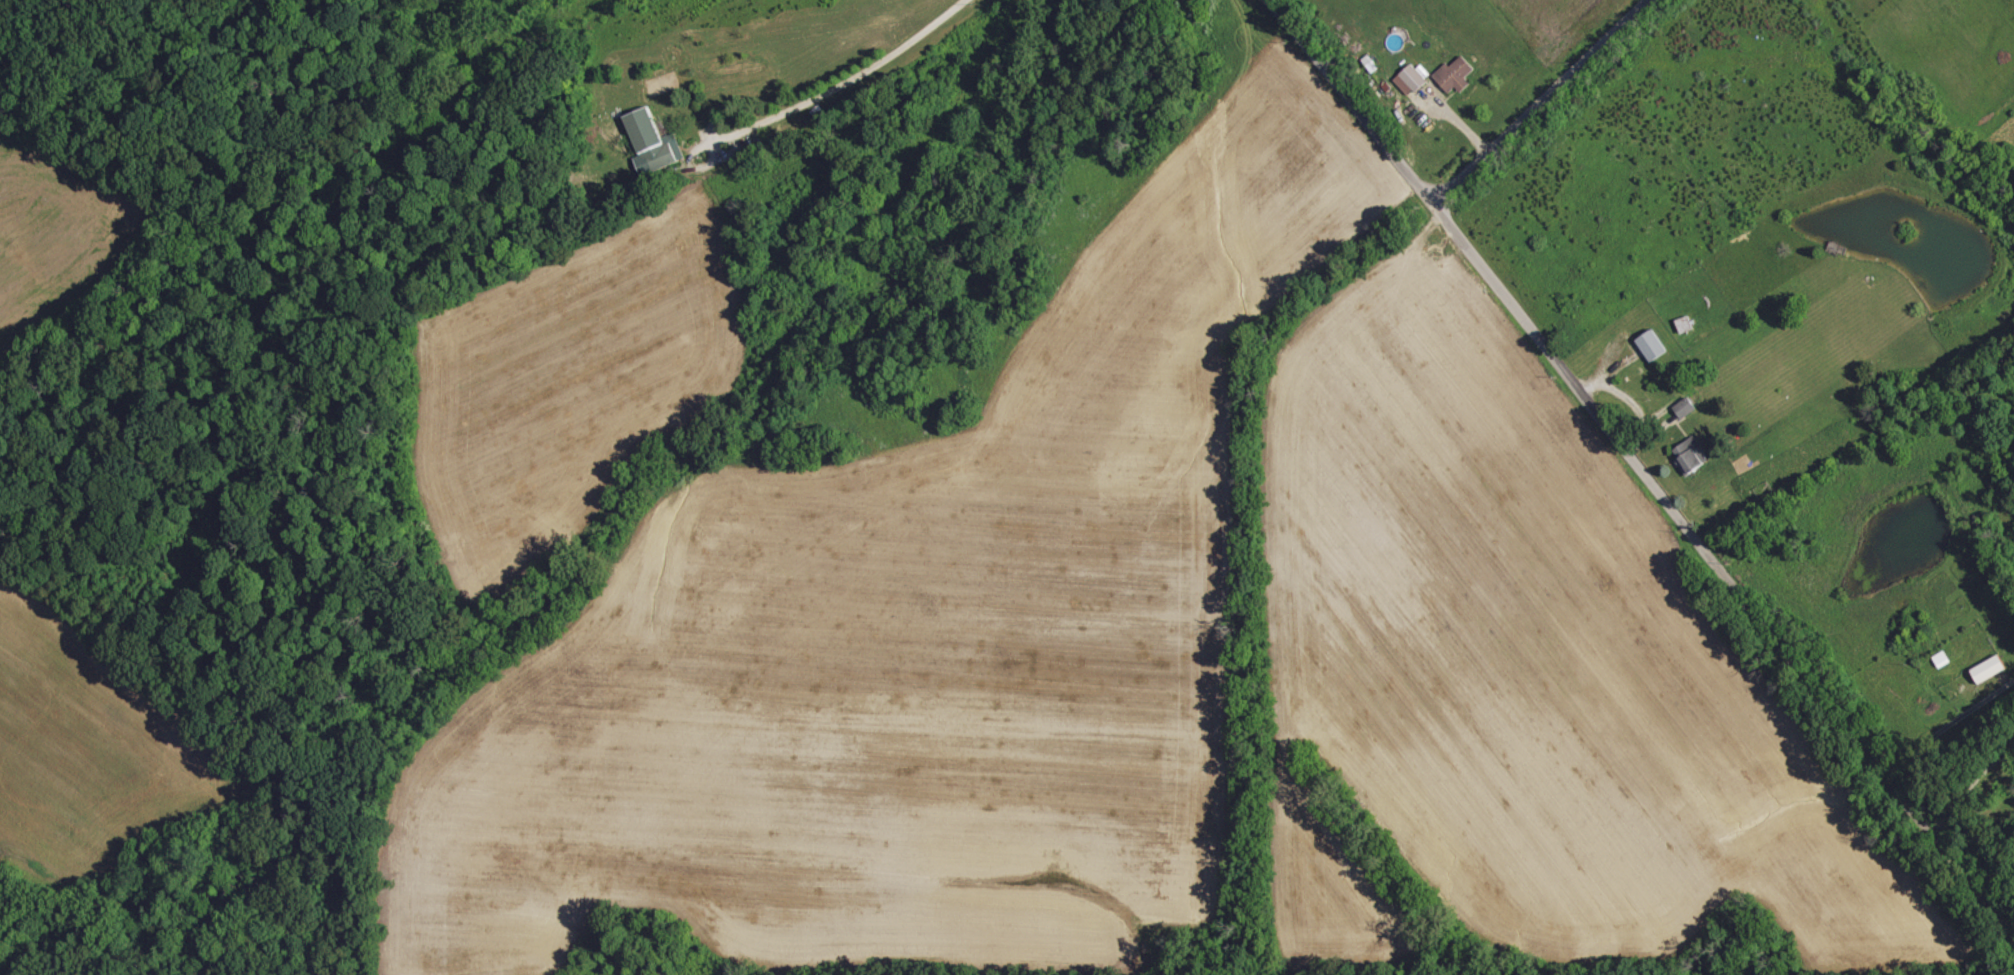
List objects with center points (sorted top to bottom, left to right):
building: (1454, 74)
building: (1410, 80)
road: (842, 82)
road: (1351, 95)
road: (1533, 97)
building: (650, 143)
building: (1651, 345)
building: (1685, 407)
building: (1690, 454)
road: (1714, 566)
building: (1989, 669)
road: (1948, 727)
road: (1968, 784)

